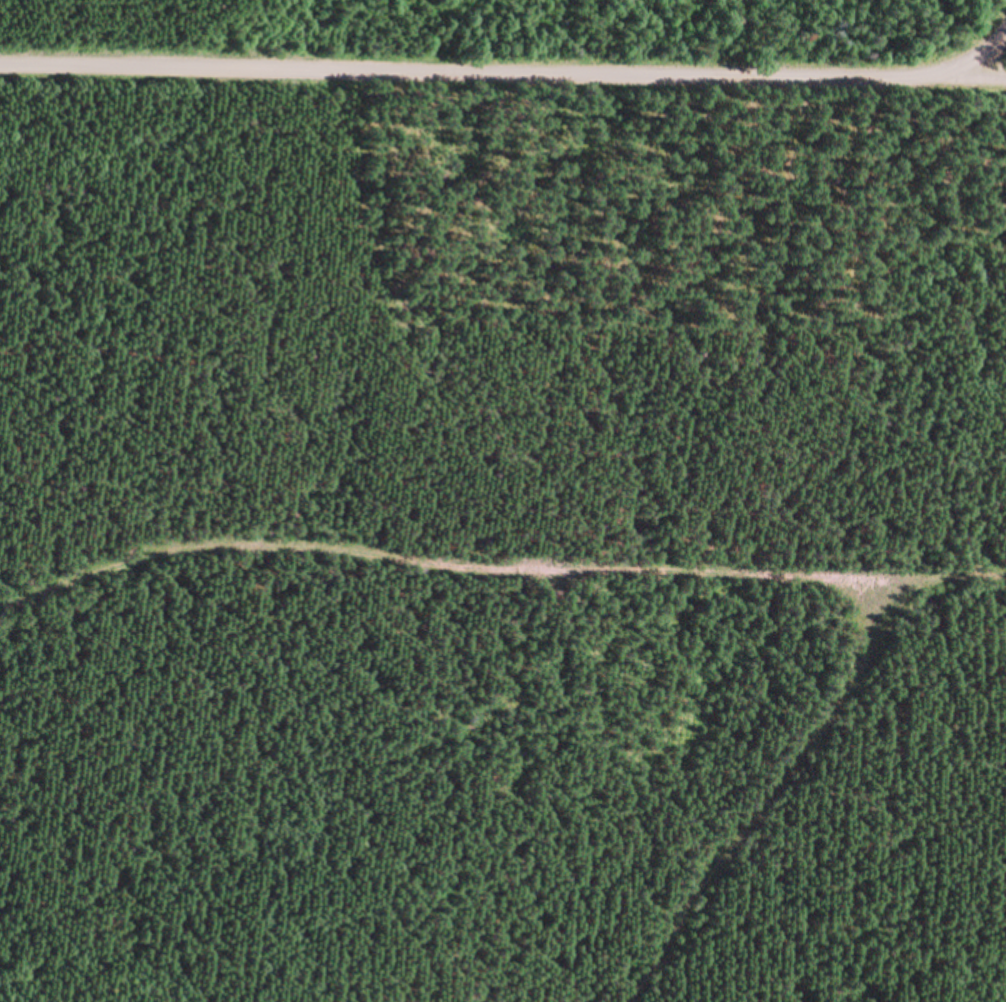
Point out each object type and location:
park: (508, 31)
road: (990, 70)
road: (507, 76)

